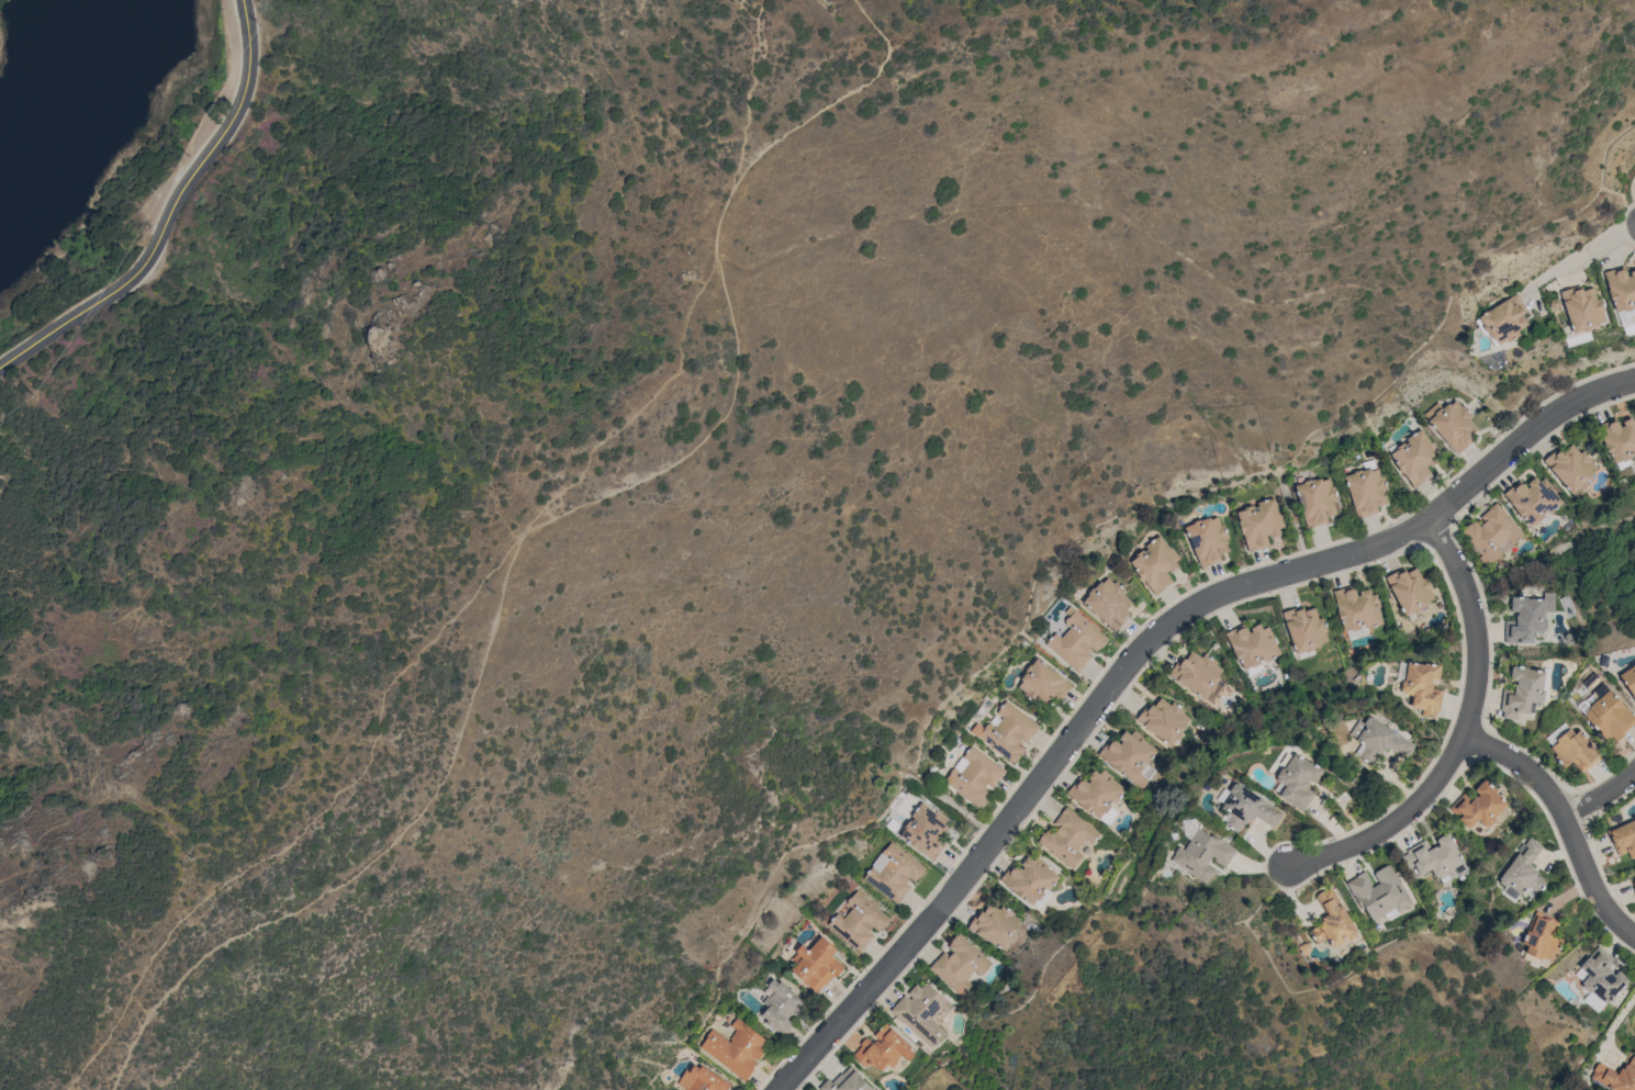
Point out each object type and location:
road: (753, 88)
road: (171, 214)
road: (1584, 251)
building: (1621, 288)
building: (1582, 308)
building: (1504, 319)
building: (1454, 425)
building: (1619, 438)
building: (1415, 457)
building: (1570, 465)
building: (1366, 488)
building: (1533, 498)
building: (1315, 499)
building: (1550, 517)
building: (1259, 522)
road: (535, 527)
building: (1492, 535)
building: (1208, 539)
building: (1155, 564)
building: (1410, 589)
building: (1108, 603)
building: (1357, 608)
building: (1525, 620)
building: (1304, 628)
building: (1076, 640)
building: (1252, 645)
road: (1143, 653)
building: (1197, 673)
road: (402, 674)
building: (1630, 678)
building: (1042, 683)
building: (1423, 687)
building: (1522, 692)
building: (1609, 716)
building: (1164, 719)
building: (1007, 731)
building: (1379, 739)
road: (1468, 740)
building: (1575, 750)
building: (1128, 753)
building: (974, 775)
building: (1298, 780)
building: (1096, 791)
road: (1602, 798)
building: (1479, 806)
building: (1247, 808)
road: (1570, 824)
building: (926, 830)
building: (1068, 836)
building: (1624, 838)
building: (1202, 854)
building: (1434, 856)
building: (1523, 868)
building: (894, 872)
building: (1029, 879)
building: (1634, 886)
building: (1379, 892)
building: (859, 921)
building: (1333, 921)
building: (996, 925)
building: (1542, 937)
building: (816, 964)
building: (960, 964)
building: (1601, 979)
building: (781, 1007)
building: (923, 1013)
road: (1619, 1022)
building: (736, 1048)
building: (883, 1048)
building: (1615, 1076)
building: (706, 1080)
building: (847, 1082)

